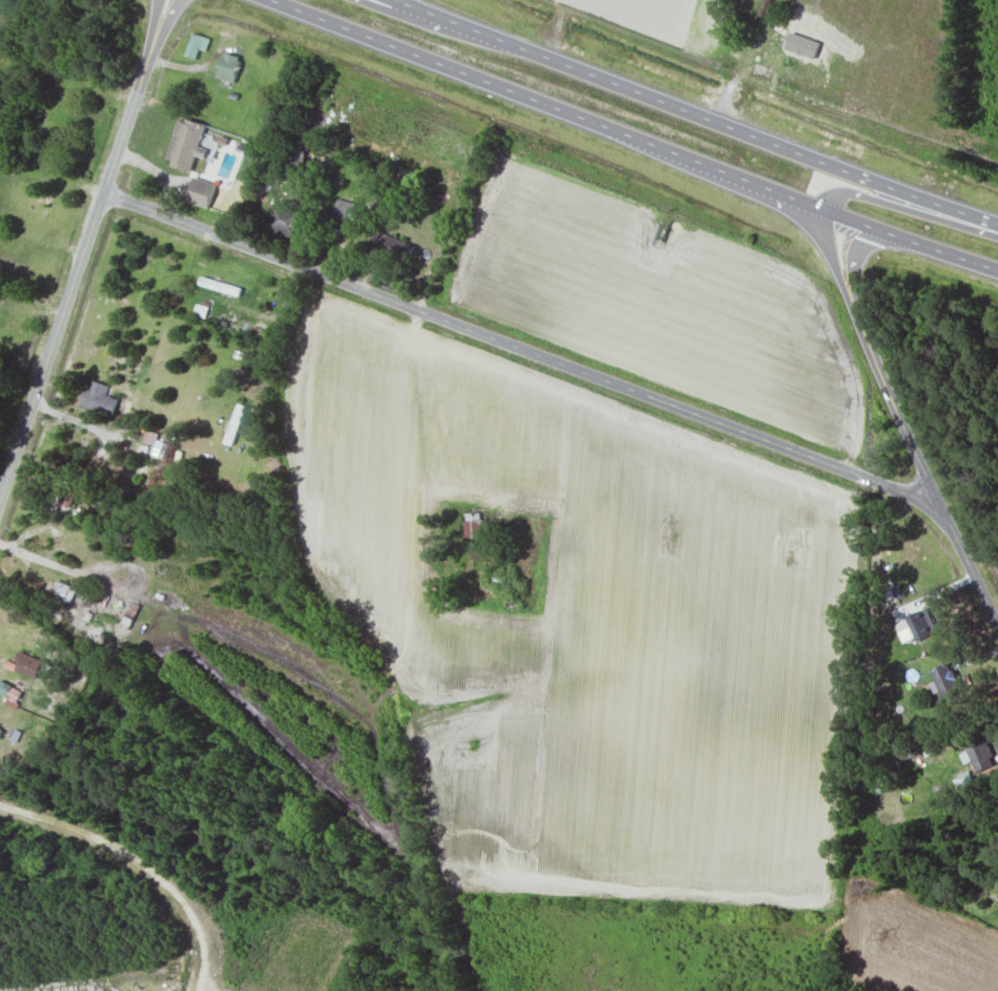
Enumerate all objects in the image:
building: (472, 0)
road: (426, 19)
road: (149, 45)
building: (196, 46)
building: (735, 49)
building: (228, 68)
building: (757, 84)
road: (695, 114)
road: (635, 137)
building: (185, 144)
building: (284, 154)
road: (50, 179)
building: (201, 193)
building: (344, 217)
building: (283, 223)
building: (392, 247)
road: (74, 272)
building: (220, 286)
road: (860, 333)
road: (586, 373)
building: (99, 398)
building: (159, 449)
building: (475, 526)
power tower: (46, 543)
building: (492, 576)
building: (60, 590)
building: (916, 626)
building: (26, 665)
building: (945, 682)
power tower: (475, 744)
building: (979, 754)
building: (990, 854)
power tower: (882, 934)

